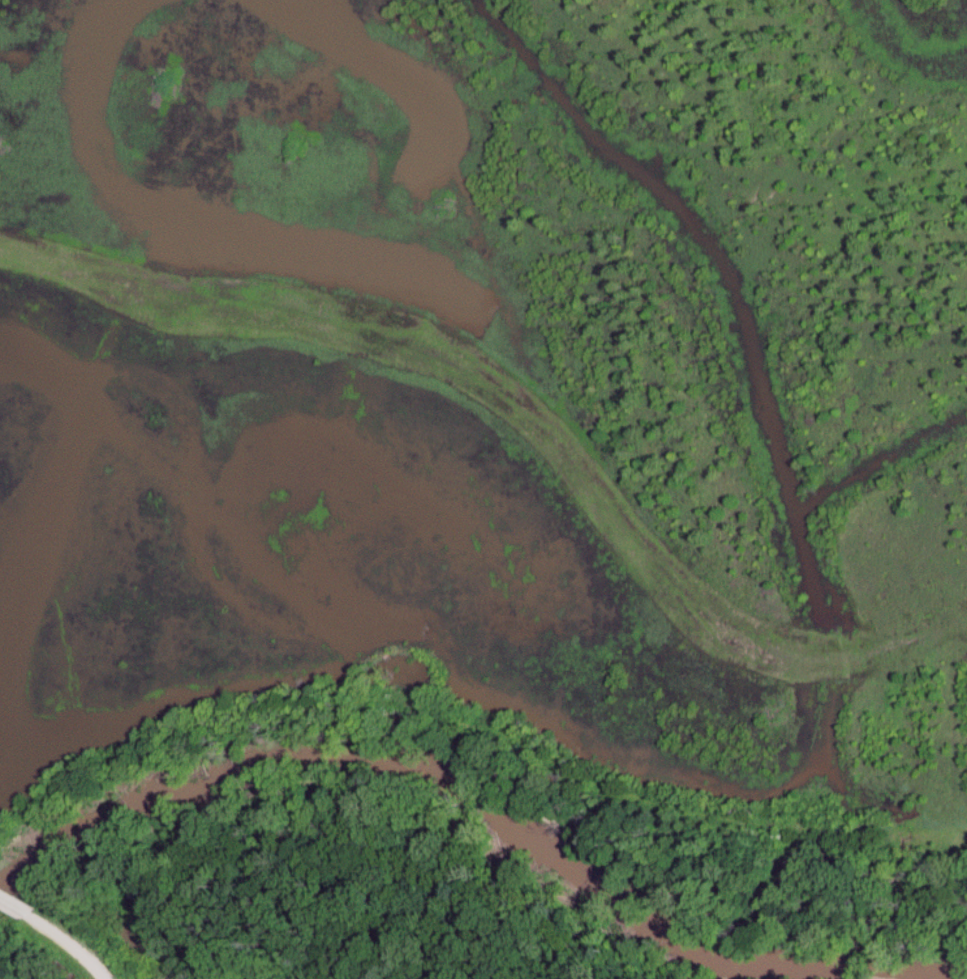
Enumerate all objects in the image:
road: (17, 908)
road: (75, 944)

